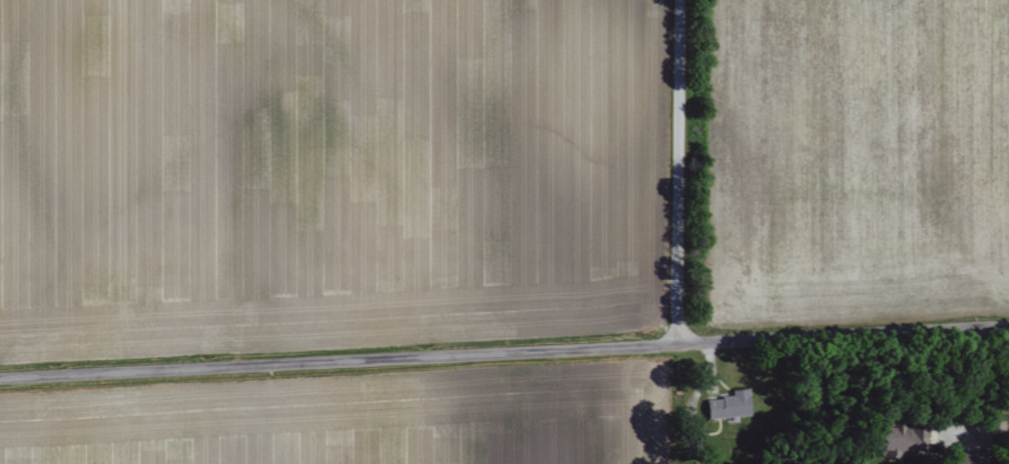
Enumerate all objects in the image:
road: (674, 173)
road: (504, 354)
road: (976, 389)
building: (899, 441)
building: (965, 458)

